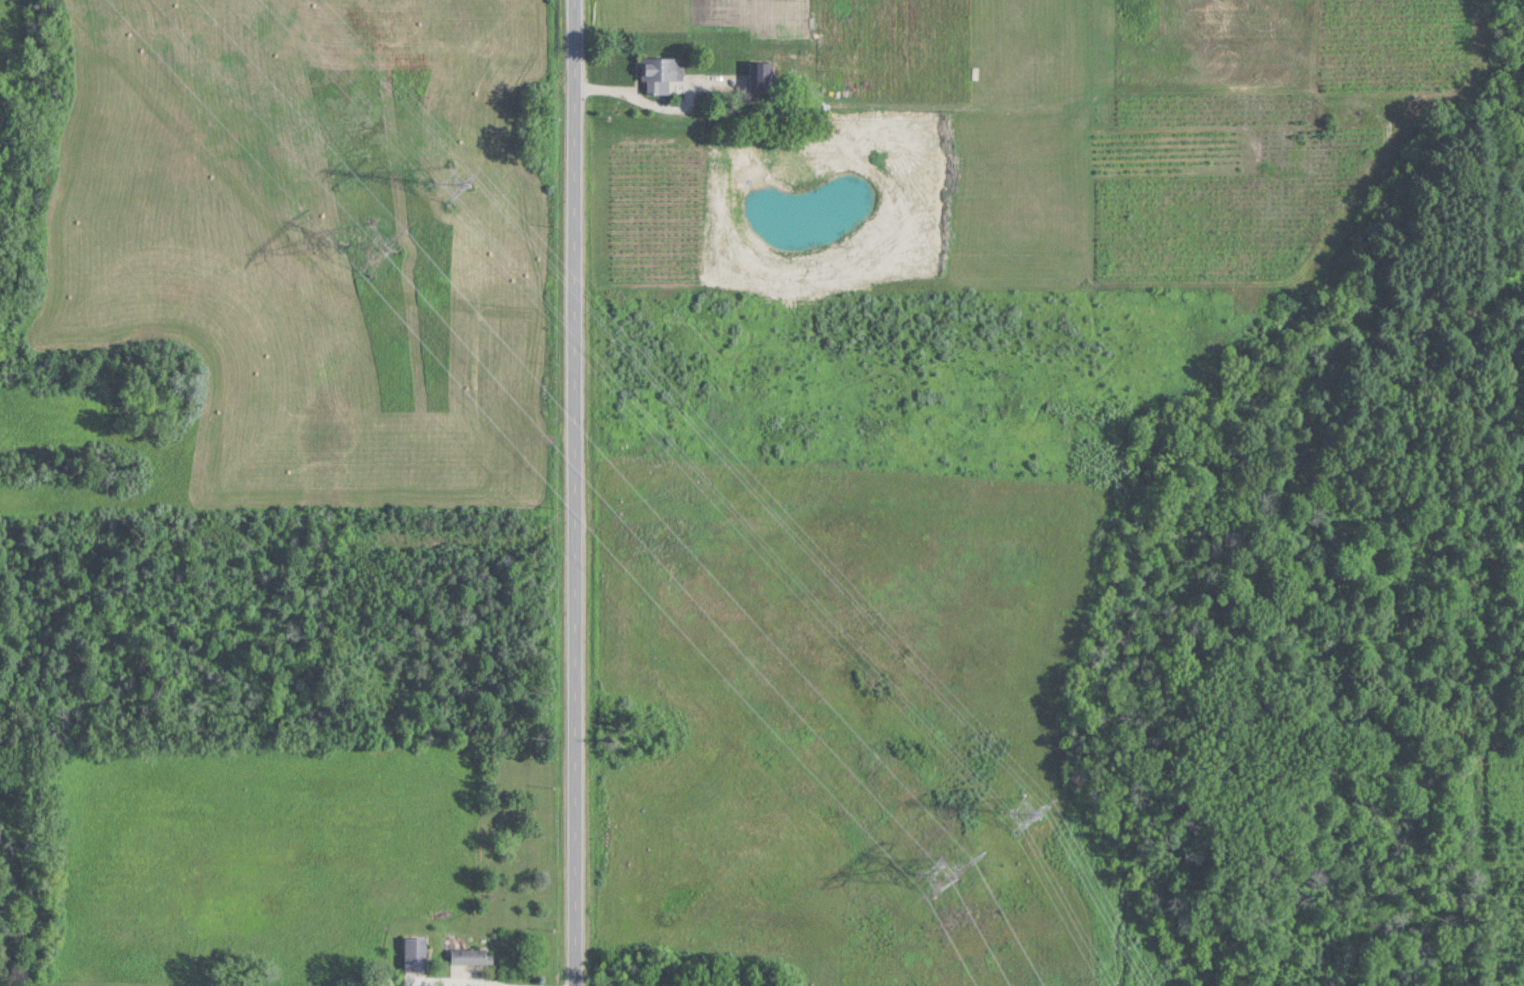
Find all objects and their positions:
building: (662, 69)
building: (762, 76)
road: (629, 91)
power tower: (453, 181)
power tower: (372, 245)
road: (578, 493)
power tower: (1023, 812)
power tower: (940, 875)
building: (416, 954)
building: (472, 956)

